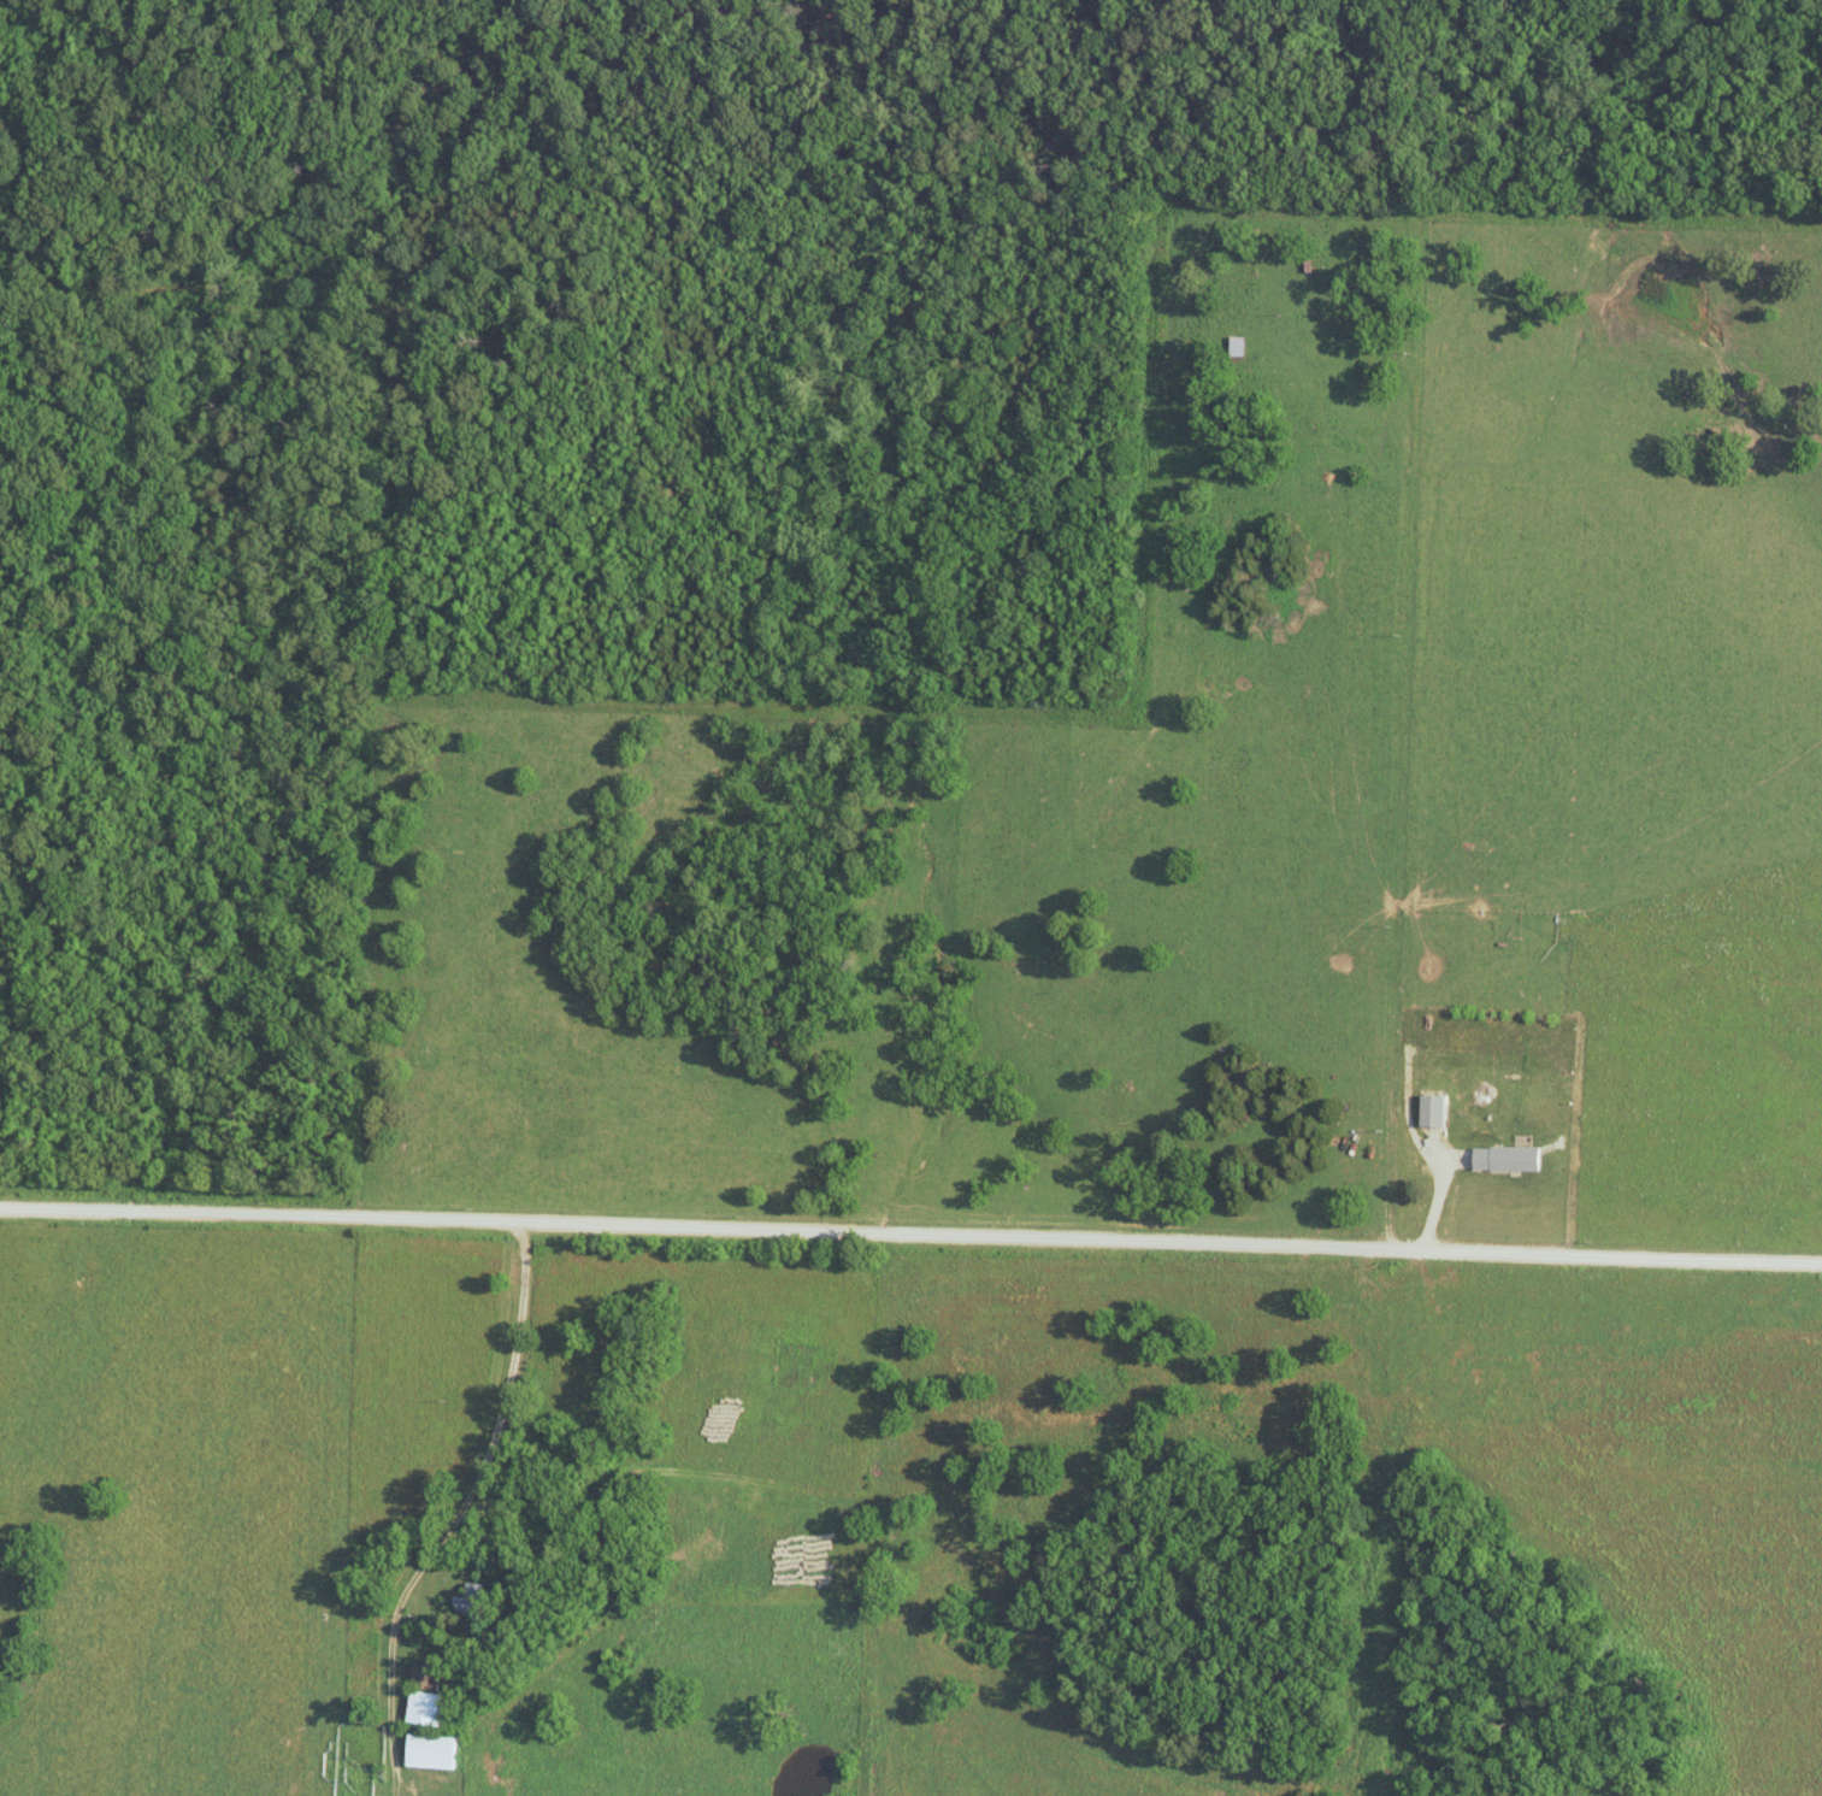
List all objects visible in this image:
building: (1237, 346)
road: (1329, 846)
building: (1432, 1109)
building: (1504, 1158)
road: (910, 1233)
road: (478, 1479)
building: (467, 1598)
building: (423, 1694)
building: (429, 1750)

